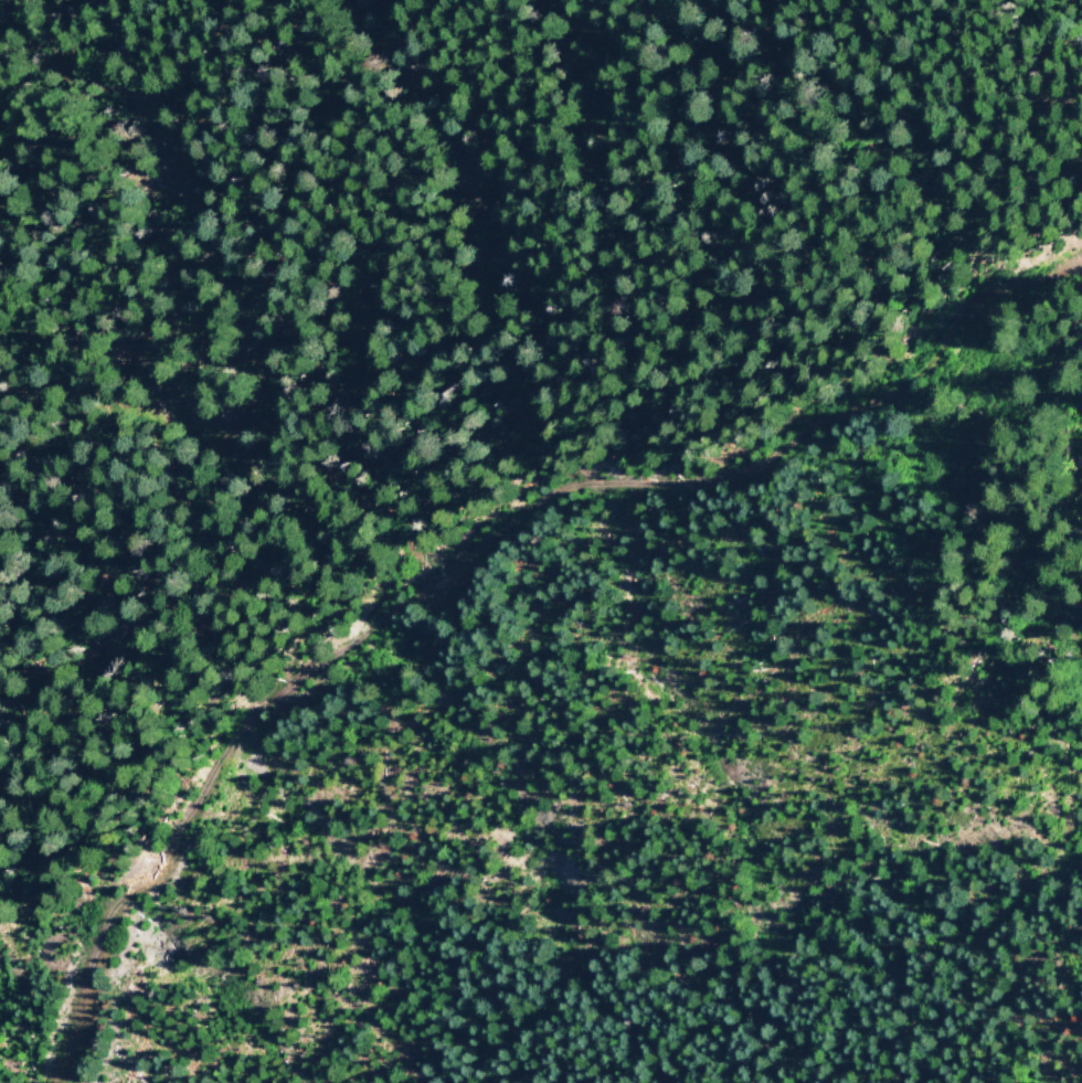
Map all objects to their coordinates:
road: (475, 552)

